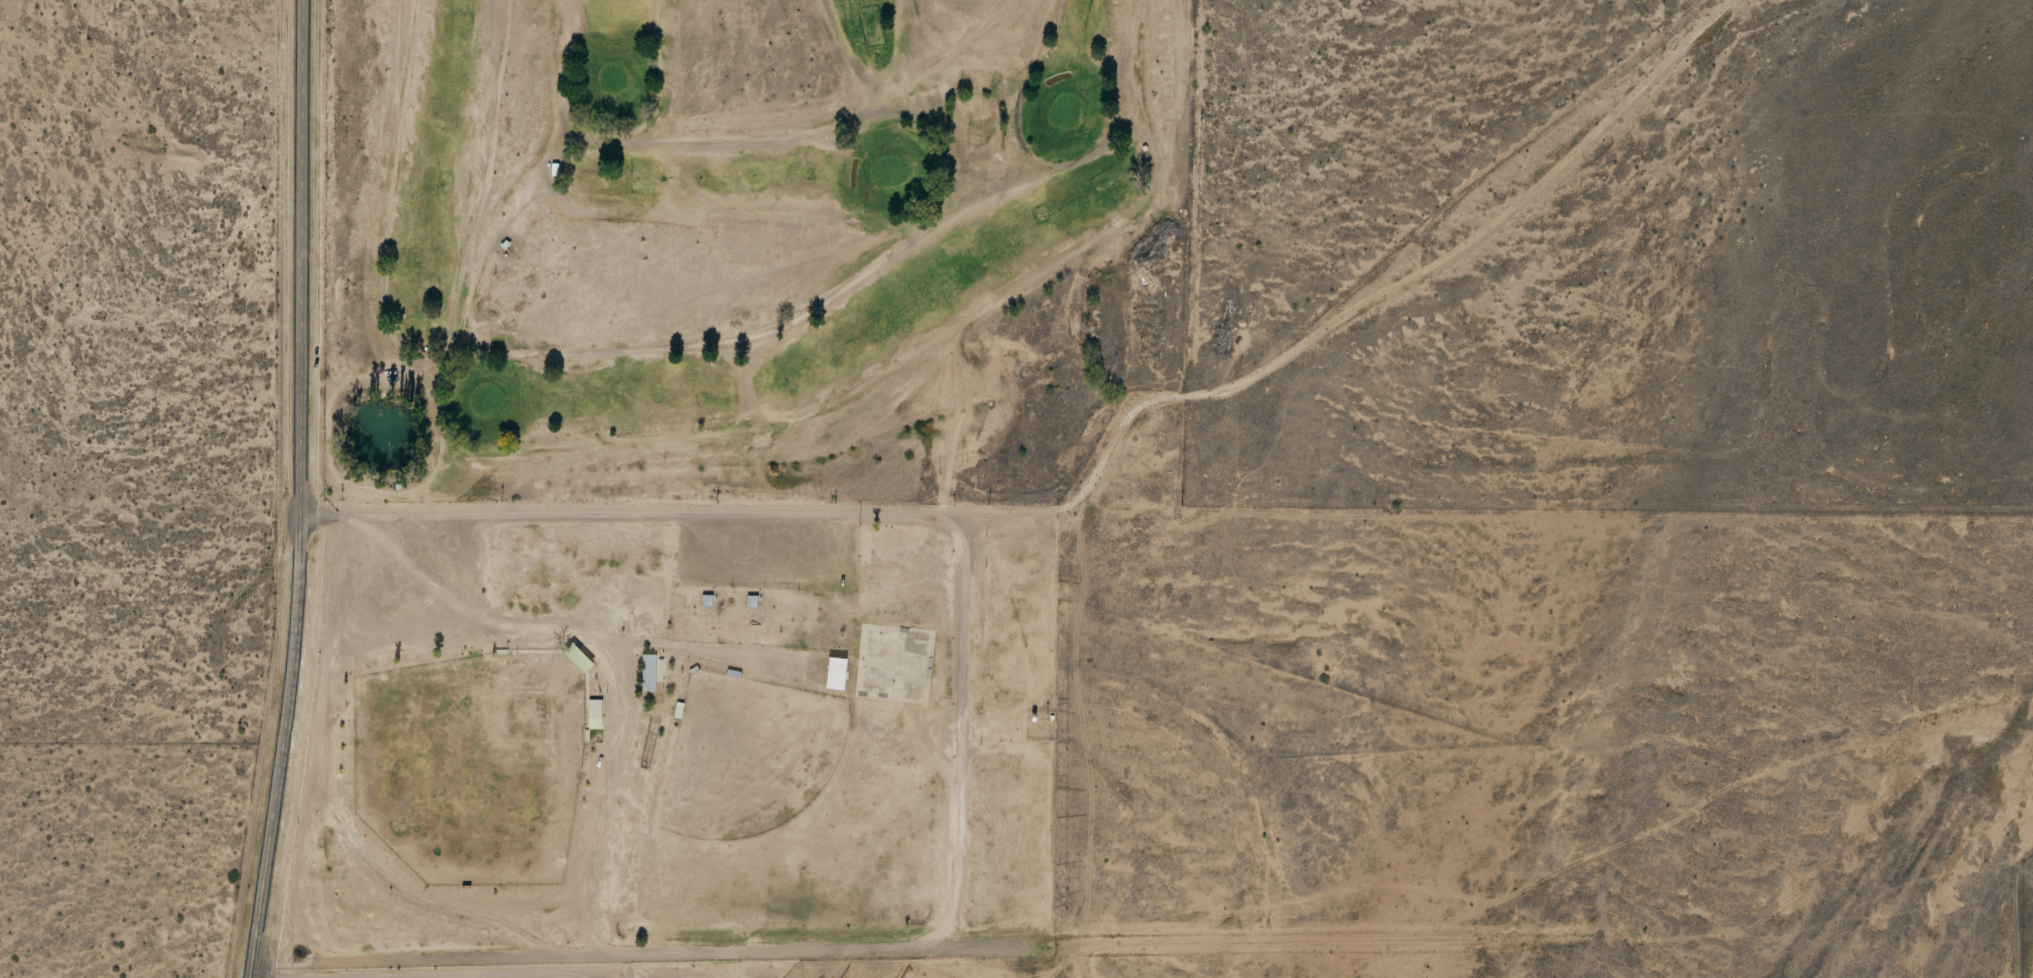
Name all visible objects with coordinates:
park: (746, 245)
road: (293, 490)
road: (320, 517)
parking lot: (769, 551)
parking lot: (400, 582)
road: (707, 649)
building: (577, 660)
building: (647, 674)
building: (836, 675)
building: (594, 715)
park: (747, 756)
park: (470, 765)
road: (605, 809)
road: (590, 927)
road: (918, 944)
road: (501, 976)

